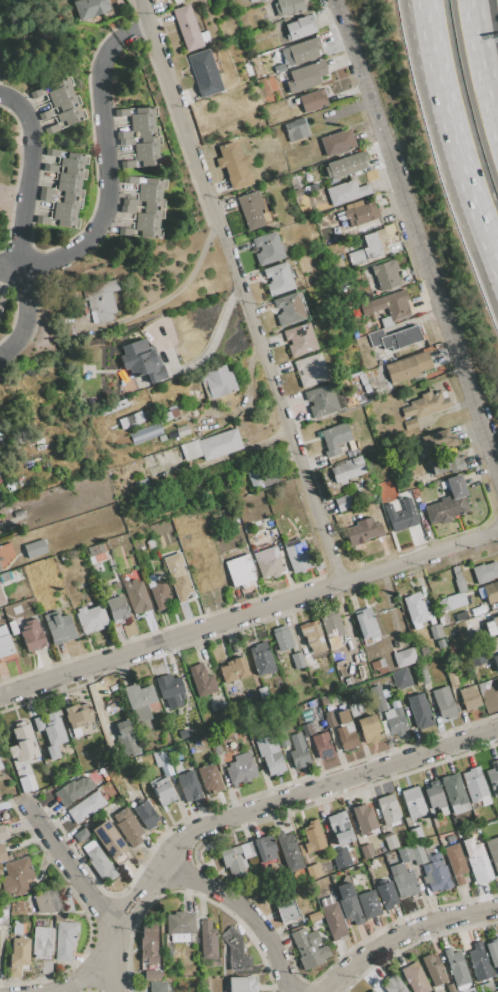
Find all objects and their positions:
building: (251, 0)
building: (289, 6)
building: (90, 8)
road: (417, 11)
road: (421, 11)
road: (496, 16)
building: (300, 27)
building: (189, 29)
building: (300, 52)
road: (484, 58)
building: (204, 72)
building: (305, 76)
building: (59, 89)
building: (37, 93)
building: (313, 100)
building: (64, 102)
building: (121, 111)
building: (45, 113)
building: (143, 114)
building: (70, 115)
building: (51, 126)
building: (144, 129)
building: (295, 130)
building: (122, 135)
building: (125, 141)
building: (337, 142)
building: (147, 144)
road: (453, 151)
building: (52, 154)
building: (148, 158)
building: (73, 160)
building: (127, 163)
building: (345, 164)
building: (234, 165)
building: (50, 169)
building: (71, 175)
building: (129, 179)
road: (27, 183)
building: (295, 183)
building: (151, 185)
building: (69, 190)
building: (47, 191)
building: (296, 192)
building: (346, 192)
building: (46, 198)
building: (150, 200)
building: (128, 203)
building: (67, 205)
road: (107, 209)
building: (127, 209)
building: (251, 210)
building: (362, 213)
building: (148, 215)
building: (65, 219)
building: (43, 220)
building: (147, 229)
building: (125, 231)
building: (340, 233)
road: (417, 237)
building: (369, 247)
building: (267, 248)
building: (394, 252)
building: (386, 274)
road: (185, 278)
building: (278, 278)
road: (241, 291)
building: (102, 300)
building: (2, 302)
building: (388, 306)
building: (288, 309)
building: (386, 321)
building: (70, 331)
building: (396, 338)
building: (299, 339)
building: (142, 361)
building: (380, 367)
building: (408, 367)
building: (311, 369)
building: (371, 373)
building: (362, 379)
building: (218, 381)
building: (444, 394)
building: (321, 401)
building: (426, 405)
building: (172, 411)
building: (164, 417)
building: (130, 420)
building: (410, 424)
building: (182, 429)
building: (145, 433)
building: (161, 437)
building: (335, 438)
building: (438, 440)
building: (211, 445)
building: (446, 463)
building: (347, 470)
building: (265, 475)
building: (9, 486)
building: (343, 503)
building: (448, 503)
building: (254, 509)
building: (401, 516)
building: (269, 523)
building: (362, 531)
building: (273, 532)
building: (159, 541)
building: (150, 543)
building: (35, 549)
building: (300, 557)
road: (419, 557)
building: (269, 562)
building: (239, 571)
building: (485, 572)
building: (4, 577)
building: (150, 580)
building: (458, 580)
building: (116, 584)
building: (181, 587)
building: (491, 592)
building: (135, 594)
building: (160, 594)
building: (1, 598)
building: (449, 602)
building: (116, 608)
building: (415, 608)
building: (477, 610)
building: (91, 618)
building: (367, 623)
building: (495, 623)
building: (59, 627)
building: (13, 628)
building: (332, 629)
building: (3, 631)
building: (435, 632)
building: (311, 633)
building: (32, 636)
building: (282, 638)
road: (171, 639)
building: (451, 647)
building: (5, 649)
building: (318, 649)
building: (424, 651)
building: (404, 656)
building: (477, 657)
building: (261, 659)
building: (297, 660)
building: (495, 662)
building: (234, 670)
building: (423, 675)
building: (401, 679)
building: (452, 679)
building: (202, 680)
building: (170, 690)
building: (263, 694)
building: (378, 698)
building: (470, 698)
building: (139, 702)
building: (444, 703)
building: (355, 708)
building: (419, 710)
building: (77, 716)
building: (343, 716)
building: (329, 718)
building: (395, 718)
building: (322, 723)
building: (384, 726)
building: (123, 728)
building: (308, 729)
building: (369, 729)
building: (51, 732)
building: (182, 734)
building: (346, 739)
building: (23, 742)
building: (323, 745)
building: (215, 748)
building: (298, 750)
building: (178, 753)
building: (270, 754)
building: (0, 766)
building: (241, 769)
building: (493, 777)
building: (210, 778)
building: (24, 784)
building: (475, 784)
building: (190, 788)
building: (73, 790)
building: (162, 790)
building: (455, 793)
building: (435, 796)
road: (286, 800)
building: (413, 802)
building: (85, 806)
building: (388, 809)
building: (145, 814)
building: (364, 819)
building: (128, 827)
building: (339, 827)
building: (2, 833)
building: (415, 834)
building: (80, 835)
building: (312, 838)
building: (450, 838)
building: (110, 841)
building: (391, 842)
building: (88, 846)
building: (265, 848)
building: (247, 850)
building: (366, 851)
building: (289, 852)
building: (493, 852)
building: (418, 853)
building: (2, 854)
building: (405, 854)
building: (233, 861)
building: (339, 861)
building: (100, 863)
building: (455, 863)
road: (70, 864)
building: (478, 866)
building: (314, 871)
building: (436, 873)
building: (16, 877)
building: (403, 880)
building: (386, 895)
building: (46, 901)
building: (326, 901)
building: (349, 904)
building: (368, 905)
building: (287, 907)
road: (244, 909)
building: (3, 914)
building: (333, 920)
building: (179, 923)
building: (16, 927)
road: (403, 933)
building: (178, 937)
building: (64, 940)
building: (208, 940)
building: (41, 942)
building: (148, 942)
building: (308, 948)
building: (235, 950)
building: (493, 952)
building: (18, 955)
road: (109, 957)
building: (480, 962)
building: (433, 969)
building: (457, 969)
building: (151, 974)
road: (79, 979)
building: (415, 979)
building: (242, 984)
building: (393, 984)
building: (157, 987)
building: (450, 987)
building: (487, 987)
building: (469, 990)
building: (371, 991)
building: (376, 991)
building: (497, 991)

